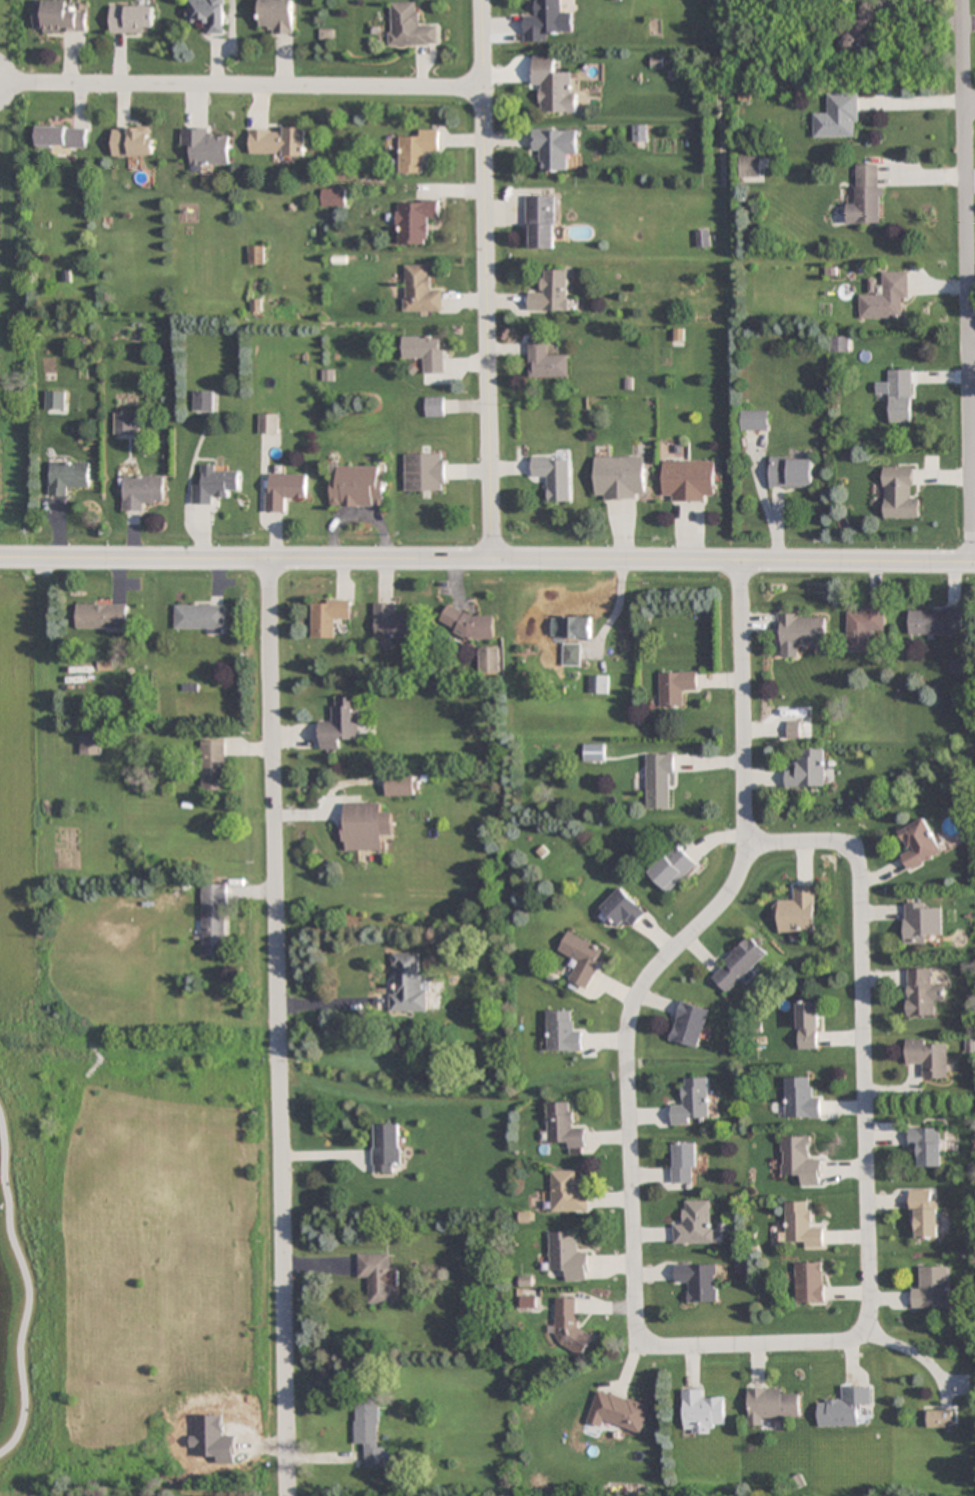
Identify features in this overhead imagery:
building: (208, 14)
building: (277, 15)
building: (59, 17)
building: (133, 19)
building: (545, 21)
building: (409, 26)
road: (241, 86)
building: (554, 86)
road: (969, 105)
building: (839, 117)
building: (640, 133)
building: (62, 137)
building: (133, 141)
building: (278, 141)
building: (207, 147)
building: (555, 147)
building: (418, 152)
park: (8, 167)
building: (749, 168)
parking lot: (0, 189)
building: (866, 197)
building: (416, 221)
building: (541, 222)
building: (702, 238)
building: (257, 255)
road: (486, 280)
road: (967, 281)
building: (421, 290)
building: (552, 292)
building: (885, 296)
building: (839, 344)
building: (425, 352)
building: (546, 361)
building: (897, 395)
building: (56, 400)
building: (203, 401)
building: (435, 407)
building: (753, 422)
building: (124, 423)
building: (268, 424)
building: (425, 472)
building: (791, 474)
building: (68, 477)
building: (555, 477)
building: (620, 478)
building: (688, 481)
building: (215, 485)
building: (359, 486)
building: (284, 490)
building: (141, 491)
building: (899, 495)
road: (487, 560)
building: (102, 617)
building: (329, 617)
building: (200, 618)
building: (935, 621)
building: (395, 623)
building: (471, 625)
building: (577, 627)
building: (864, 627)
building: (802, 631)
building: (571, 655)
building: (490, 661)
building: (598, 684)
building: (675, 687)
road: (742, 701)
building: (341, 724)
building: (91, 744)
building: (594, 753)
building: (214, 765)
building: (808, 770)
building: (660, 781)
building: (401, 785)
building: (365, 827)
building: (920, 844)
building: (673, 868)
building: (623, 909)
building: (797, 912)
building: (215, 920)
building: (922, 922)
building: (583, 958)
building: (739, 964)
building: (409, 983)
building: (923, 992)
building: (690, 1024)
building: (808, 1025)
road: (277, 1028)
road: (864, 1029)
building: (563, 1033)
building: (928, 1058)
road: (627, 1075)
building: (801, 1098)
building: (693, 1102)
building: (563, 1126)
building: (386, 1147)
building: (926, 1147)
building: (800, 1161)
building: (685, 1163)
building: (567, 1192)
building: (924, 1215)
building: (695, 1224)
building: (802, 1226)
building: (567, 1256)
building: (377, 1277)
building: (699, 1282)
building: (810, 1282)
building: (932, 1289)
building: (568, 1326)
road: (760, 1348)
building: (771, 1405)
building: (844, 1407)
building: (617, 1411)
building: (702, 1413)
building: (939, 1419)
building: (369, 1431)
crop: (25, 1492)

